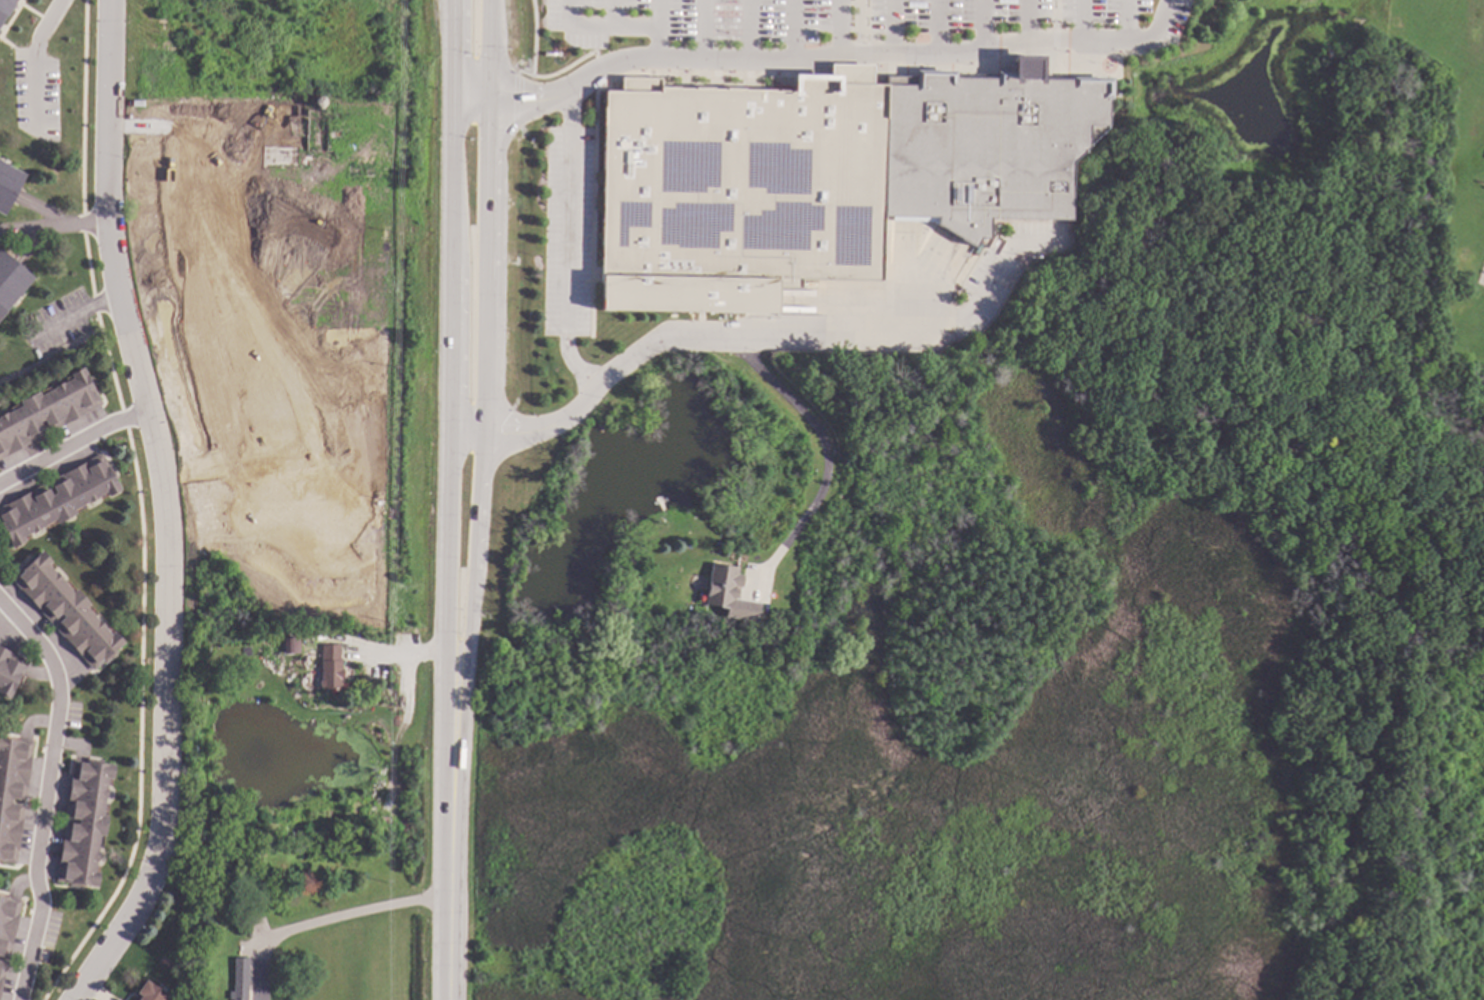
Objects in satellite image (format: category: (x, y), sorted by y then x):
building: (6, 9)
road: (614, 14)
road: (658, 14)
parking lot: (818, 18)
road: (1029, 21)
road: (1082, 21)
road: (1127, 21)
road: (985, 25)
road: (840, 27)
road: (860, 27)
road: (893, 27)
road: (598, 28)
road: (938, 28)
road: (703, 30)
road: (748, 30)
road: (793, 31)
road: (534, 38)
road: (658, 43)
road: (819, 58)
road: (36, 62)
road: (552, 77)
building: (983, 145)
building: (9, 185)
building: (733, 192)
road: (284, 204)
road: (52, 229)
parking lot: (565, 234)
road: (568, 241)
road: (240, 243)
building: (12, 281)
road: (74, 316)
road: (762, 334)
road: (62, 352)
road: (449, 353)
road: (484, 354)
building: (48, 411)
road: (72, 445)
road: (821, 445)
road: (263, 454)
building: (58, 498)
road: (164, 508)
building: (727, 593)
building: (68, 611)
building: (274, 646)
building: (293, 646)
road: (416, 656)
building: (333, 667)
building: (11, 670)
road: (45, 791)
building: (14, 795)
building: (85, 823)
road: (454, 853)
road: (327, 920)
building: (8, 931)
building: (167, 962)
building: (242, 979)
building: (151, 992)

